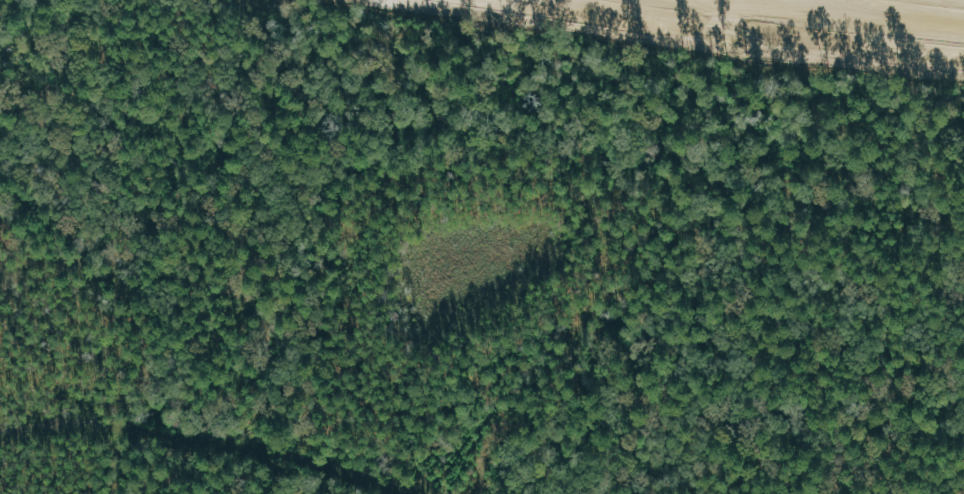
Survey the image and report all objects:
road: (716, 32)

